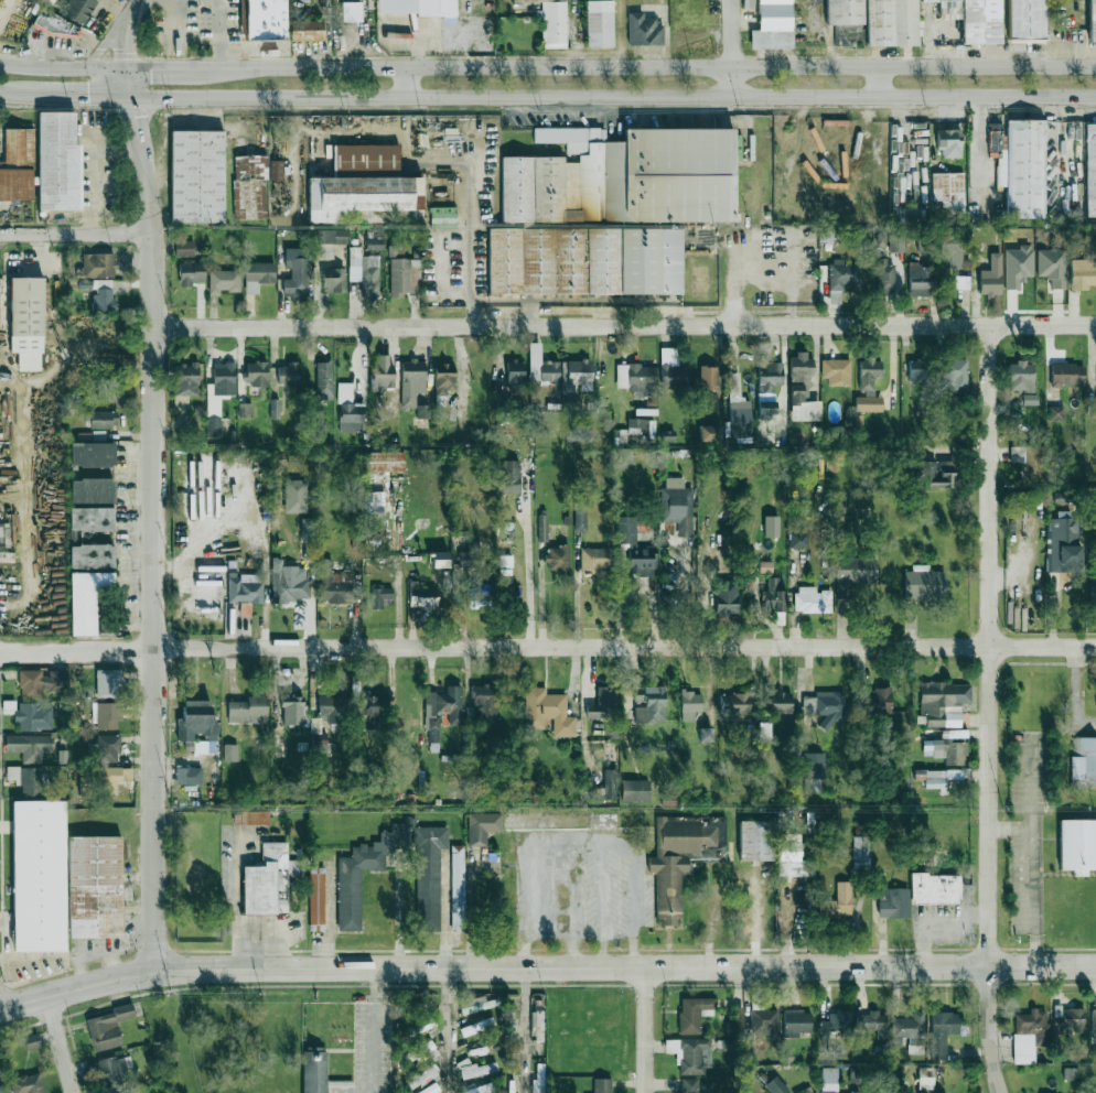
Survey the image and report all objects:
building: (49, 1)
building: (417, 7)
building: (78, 9)
building: (350, 11)
road: (130, 17)
building: (1025, 19)
building: (1092, 19)
road: (175, 20)
building: (264, 20)
building: (878, 20)
building: (980, 21)
building: (552, 22)
parking lot: (195, 23)
building: (599, 23)
building: (55, 24)
building: (772, 25)
building: (643, 29)
building: (307, 30)
road: (218, 34)
road: (666, 39)
road: (732, 48)
road: (101, 50)
road: (62, 67)
road: (160, 68)
road: (645, 68)
road: (408, 83)
road: (878, 83)
road: (17, 94)
road: (83, 95)
road: (613, 97)
building: (948, 141)
road: (982, 152)
building: (57, 161)
building: (17, 165)
road: (464, 165)
building: (1020, 165)
building: (276, 169)
building: (1090, 169)
building: (196, 176)
building: (249, 186)
building: (365, 187)
building: (947, 190)
building: (606, 209)
building: (442, 216)
road: (76, 232)
building: (330, 236)
building: (896, 241)
building: (375, 242)
building: (183, 247)
building: (952, 249)
building: (323, 251)
building: (98, 264)
building: (1051, 266)
building: (191, 272)
building: (1082, 272)
building: (257, 274)
building: (368, 274)
building: (845, 274)
building: (991, 275)
building: (296, 277)
building: (884, 277)
building: (400, 278)
building: (333, 279)
building: (918, 279)
building: (224, 280)
building: (961, 282)
building: (85, 283)
building: (103, 296)
road: (733, 299)
building: (26, 322)
road: (624, 325)
building: (540, 366)
building: (671, 368)
building: (917, 369)
building: (835, 370)
building: (955, 370)
building: (576, 371)
building: (255, 372)
building: (287, 372)
building: (382, 374)
building: (868, 374)
building: (1066, 374)
building: (1020, 375)
building: (769, 376)
building: (706, 377)
building: (185, 378)
building: (223, 378)
building: (443, 378)
building: (636, 378)
building: (323, 379)
building: (411, 381)
building: (511, 382)
building: (106, 388)
building: (802, 389)
building: (1029, 398)
building: (737, 400)
building: (568, 401)
building: (212, 402)
building: (868, 403)
building: (766, 407)
building: (273, 408)
building: (245, 409)
building: (348, 409)
building: (421, 410)
building: (1055, 412)
building: (100, 418)
building: (213, 425)
building: (636, 425)
building: (709, 433)
building: (92, 454)
building: (383, 461)
building: (1032, 461)
building: (933, 473)
building: (509, 475)
building: (92, 490)
building: (294, 495)
road: (153, 500)
building: (677, 505)
building: (90, 518)
building: (579, 518)
building: (374, 520)
building: (771, 526)
building: (307, 527)
building: (541, 527)
building: (796, 539)
building: (1064, 541)
building: (634, 546)
building: (470, 552)
building: (90, 555)
building: (439, 559)
building: (557, 559)
building: (594, 559)
building: (765, 566)
building: (852, 573)
building: (289, 582)
building: (332, 582)
building: (923, 583)
building: (244, 587)
building: (1093, 588)
building: (421, 595)
road: (686, 595)
building: (773, 595)
building: (380, 596)
building: (477, 597)
building: (726, 597)
building: (86, 599)
road: (542, 599)
building: (812, 599)
road: (548, 648)
building: (41, 682)
building: (107, 682)
building: (485, 700)
building: (878, 700)
building: (734, 702)
building: (780, 702)
building: (943, 702)
building: (603, 703)
building: (649, 704)
building: (689, 704)
building: (825, 704)
building: (292, 708)
building: (331, 708)
building: (442, 708)
road: (991, 708)
building: (248, 710)
building: (547, 711)
building: (366, 712)
building: (107, 714)
building: (33, 715)
building: (197, 724)
building: (705, 734)
building: (29, 745)
building: (108, 746)
building: (944, 749)
building: (229, 751)
building: (1082, 760)
building: (1095, 761)
building: (814, 771)
building: (187, 775)
building: (939, 777)
building: (114, 778)
building: (32, 781)
building: (610, 782)
building: (634, 789)
building: (533, 790)
building: (250, 816)
building: (560, 821)
building: (481, 826)
building: (754, 840)
building: (1077, 845)
road: (579, 852)
building: (860, 852)
building: (681, 856)
building: (792, 857)
building: (39, 875)
building: (428, 876)
building: (268, 879)
building: (95, 886)
building: (456, 887)
building: (935, 888)
building: (315, 897)
building: (348, 899)
building: (837, 901)
building: (893, 901)
road: (604, 909)
road: (571, 910)
road: (399, 913)
road: (470, 915)
road: (932, 917)
road: (772, 966)
road: (222, 971)
building: (471, 1002)
building: (692, 1013)
building: (1067, 1019)
building: (763, 1020)
building: (796, 1021)
building: (1093, 1021)
building: (735, 1022)
building: (835, 1022)
building: (872, 1022)
building: (420, 1025)
building: (108, 1026)
building: (476, 1026)
road: (647, 1029)
road: (525, 1030)
building: (910, 1030)
road: (373, 1031)
road: (449, 1031)
building: (942, 1031)
building: (1028, 1034)
building: (31, 1041)
road: (62, 1046)
building: (477, 1050)
building: (421, 1051)
building: (694, 1054)
building: (474, 1068)
building: (114, 1069)
building: (313, 1072)
building: (421, 1078)
building: (828, 1079)
building: (26, 1083)
building: (536, 1084)
building: (602, 1085)
building: (688, 1085)
building: (775, 1085)
building: (475, 1087)
building: (0, 1090)
building: (429, 1090)
building: (806, 1090)
building: (828, 1091)
building: (855, 1092)

